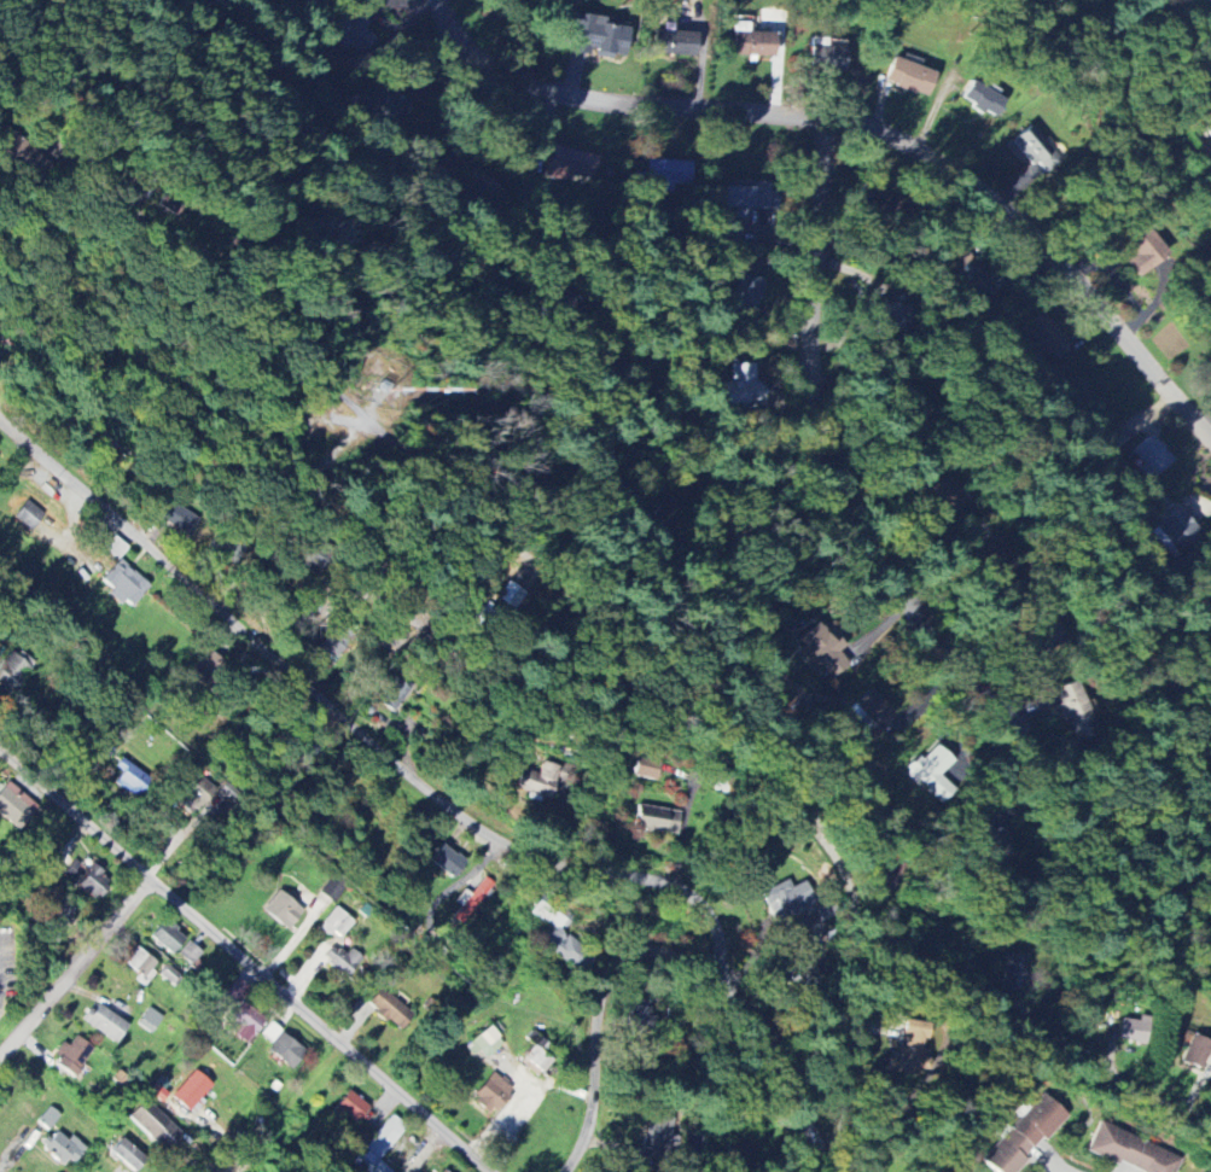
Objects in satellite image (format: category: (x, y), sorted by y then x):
building: (517, 0)
building: (347, 29)
building: (596, 39)
building: (750, 43)
building: (673, 45)
building: (827, 56)
building: (908, 78)
building: (980, 100)
building: (383, 101)
road: (454, 122)
road: (864, 126)
building: (1207, 129)
building: (1034, 151)
building: (571, 165)
building: (666, 175)
building: (483, 189)
building: (749, 198)
building: (1141, 251)
building: (980, 278)
building: (744, 298)
building: (880, 319)
building: (1047, 338)
building: (1210, 368)
building: (741, 387)
road: (693, 421)
building: (1149, 457)
road: (822, 486)
building: (945, 497)
building: (651, 506)
building: (28, 517)
building: (1175, 531)
road: (571, 567)
building: (122, 584)
building: (510, 596)
building: (333, 642)
building: (822, 652)
building: (11, 674)
building: (871, 711)
building: (1075, 712)
road: (578, 713)
building: (646, 769)
building: (931, 774)
building: (130, 780)
building: (537, 782)
building: (192, 795)
building: (13, 806)
building: (656, 821)
road: (477, 830)
building: (992, 839)
building: (444, 862)
building: (86, 880)
building: (470, 900)
building: (785, 902)
building: (281, 911)
building: (59, 916)
building: (336, 925)
building: (167, 938)
building: (560, 938)
building: (188, 955)
road: (244, 961)
building: (342, 962)
building: (139, 963)
road: (75, 969)
building: (1012, 974)
building: (389, 1010)
building: (241, 1018)
building: (635, 1019)
building: (103, 1024)
building: (1133, 1031)
building: (269, 1033)
building: (484, 1042)
building: (1192, 1051)
building: (285, 1053)
building: (912, 1053)
building: (70, 1057)
road: (778, 1066)
road: (1096, 1069)
building: (190, 1091)
building: (491, 1091)
building: (157, 1094)
building: (349, 1109)
building: (47, 1120)
building: (152, 1126)
building: (657, 1133)
building: (1024, 1137)
building: (378, 1148)
building: (60, 1149)
building: (1129, 1151)
building: (127, 1156)
building: (442, 1171)

